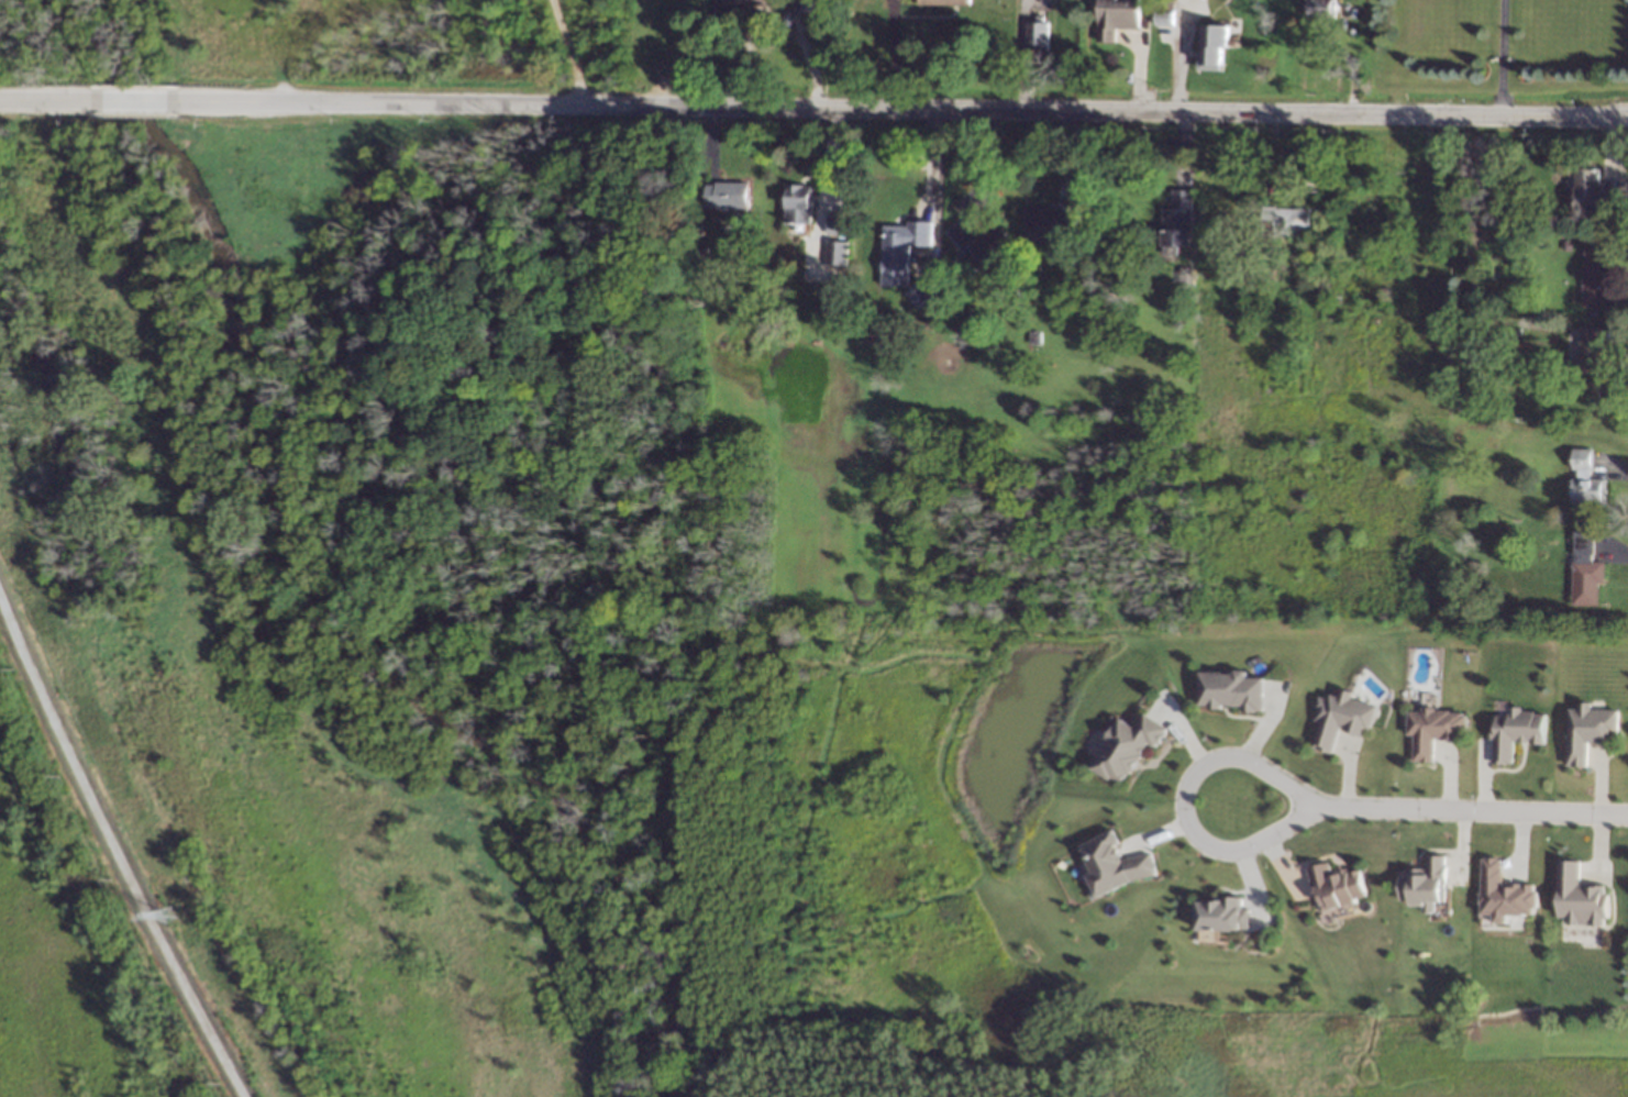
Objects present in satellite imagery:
building: (945, 2)
building: (790, 4)
building: (738, 5)
building: (822, 5)
building: (1321, 8)
building: (1165, 12)
building: (1117, 18)
building: (1038, 34)
park: (331, 44)
park: (676, 47)
building: (1214, 49)
road: (889, 54)
road: (1502, 57)
road: (49, 100)
road: (132, 100)
road: (896, 108)
building: (1595, 193)
building: (728, 195)
building: (801, 197)
building: (1178, 221)
building: (1284, 221)
building: (1051, 223)
building: (839, 224)
building: (1127, 241)
building: (978, 242)
building: (1566, 244)
building: (902, 250)
building: (839, 252)
building: (1263, 272)
building: (1283, 273)
building: (1186, 275)
building: (1595, 276)
building: (1548, 285)
building: (920, 293)
building: (834, 328)
building: (962, 328)
building: (1514, 331)
building: (872, 337)
building: (1037, 337)
building: (975, 342)
building: (1588, 353)
building: (1586, 479)
building: (1585, 570)
river: (318, 597)
park: (474, 622)
building: (1231, 688)
building: (1341, 716)
building: (1435, 729)
building: (1588, 729)
building: (1517, 731)
building: (1127, 745)
road: (1188, 804)
road: (1472, 809)
building: (1114, 863)
building: (1426, 884)
building: (1337, 885)
building: (1504, 893)
building: (1580, 897)
building: (1222, 913)
park: (70, 950)

